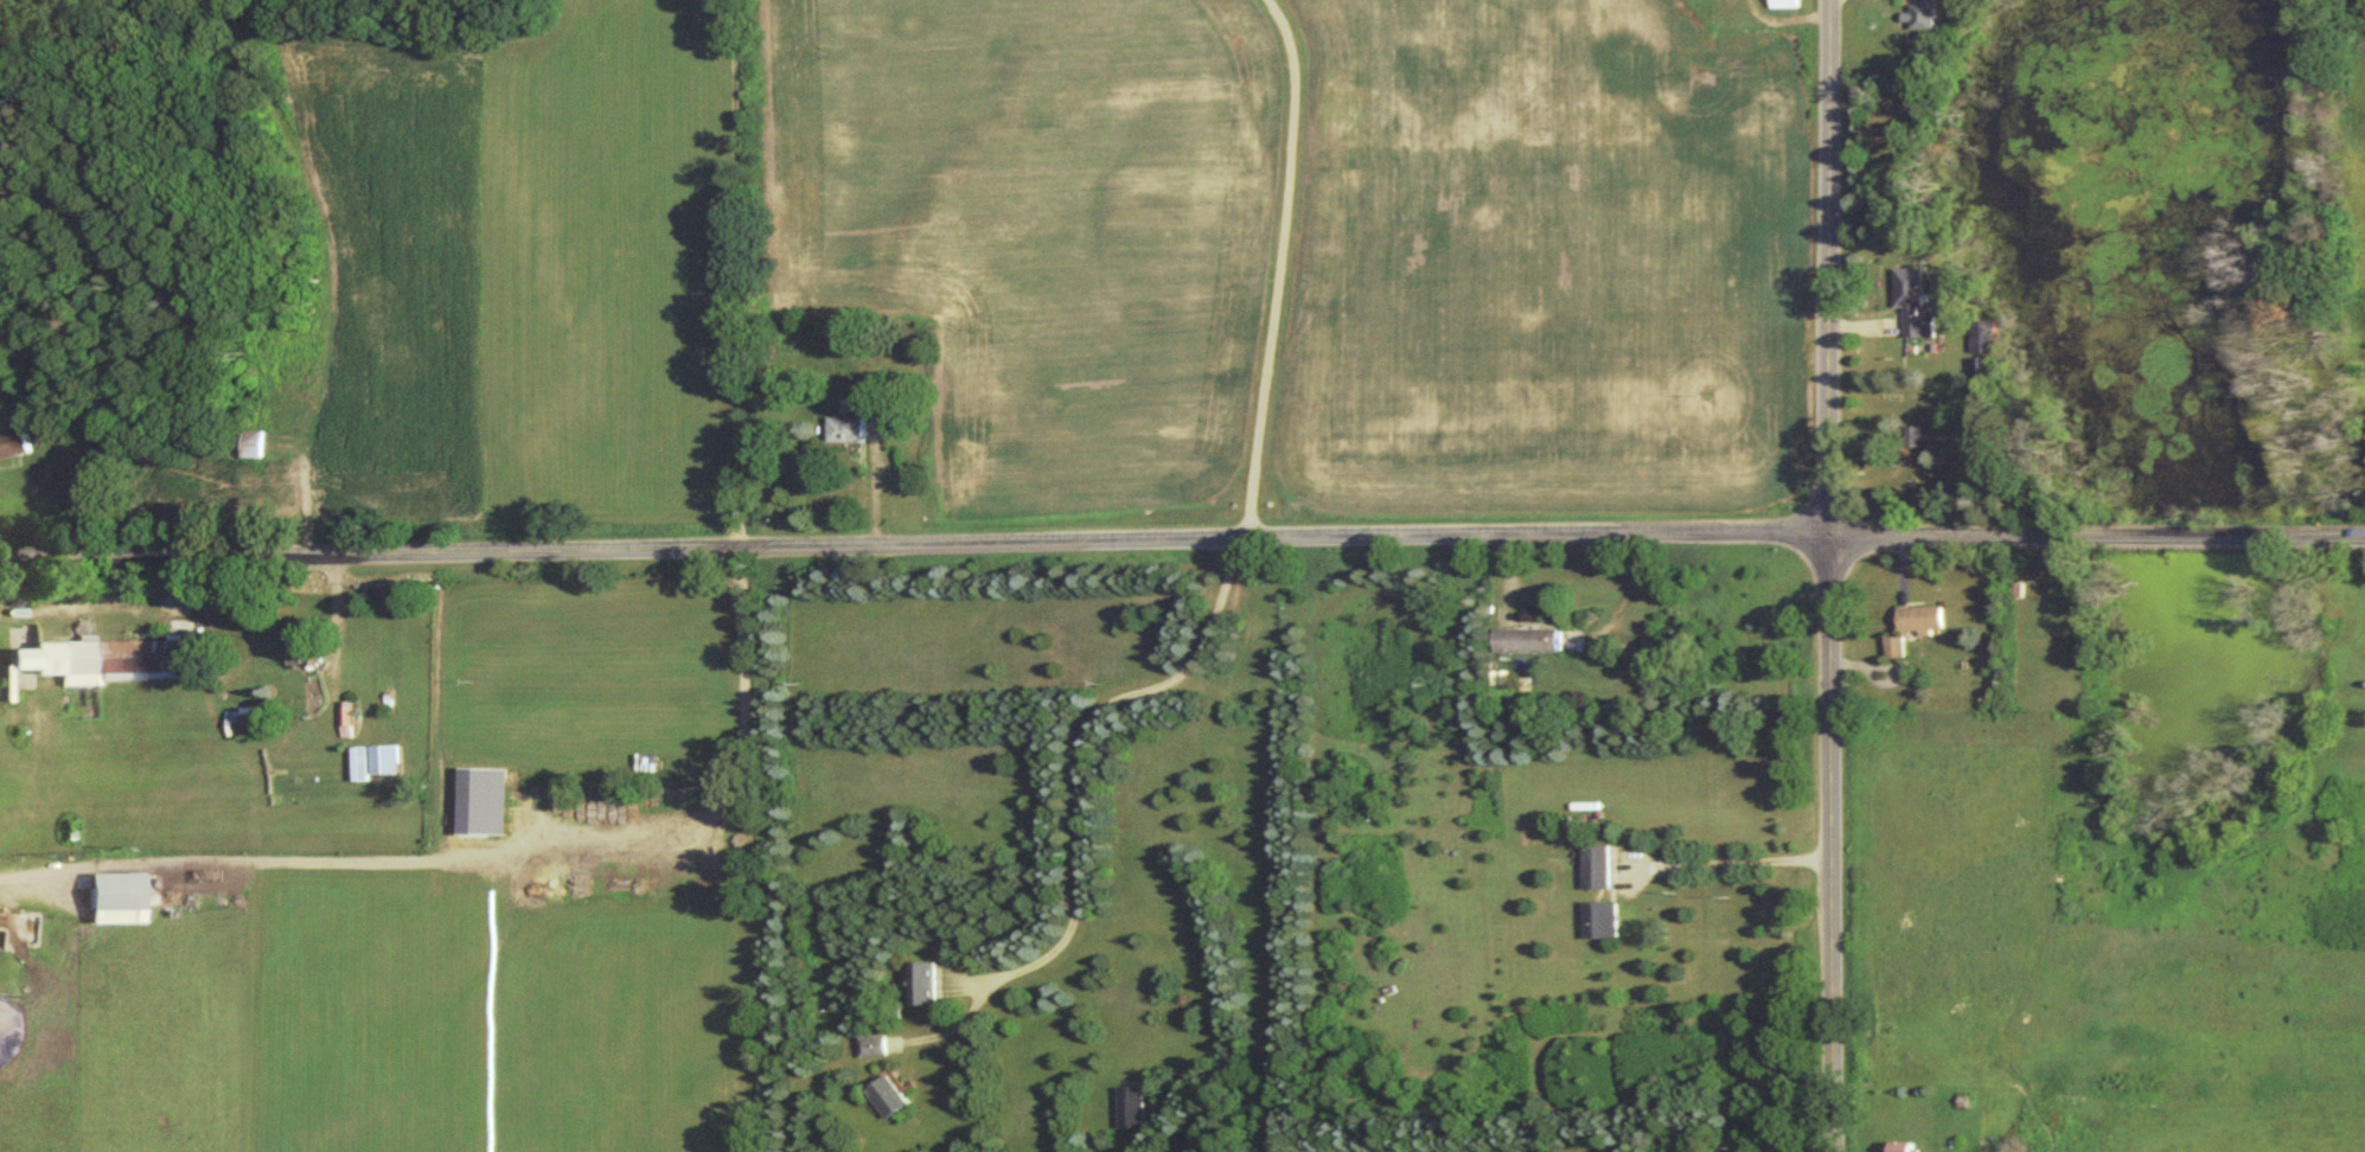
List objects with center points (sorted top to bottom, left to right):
building: (1784, 7)
building: (1926, 18)
road: (1277, 265)
building: (1916, 306)
building: (294, 360)
building: (855, 427)
building: (1919, 442)
building: (12, 449)
building: (248, 449)
building: (263, 482)
road: (1182, 540)
road: (1829, 576)
road: (331, 625)
building: (1922, 625)
building: (1527, 646)
building: (1896, 653)
building: (298, 660)
building: (109, 664)
building: (247, 728)
road: (1075, 747)
building: (384, 766)
building: (360, 769)
road: (699, 811)
road: (215, 859)
road: (1727, 862)
building: (1596, 872)
building: (117, 904)
building: (1599, 926)
building: (927, 990)
building: (873, 1051)
building: (889, 1102)
building: (1131, 1113)
building: (1904, 1150)

